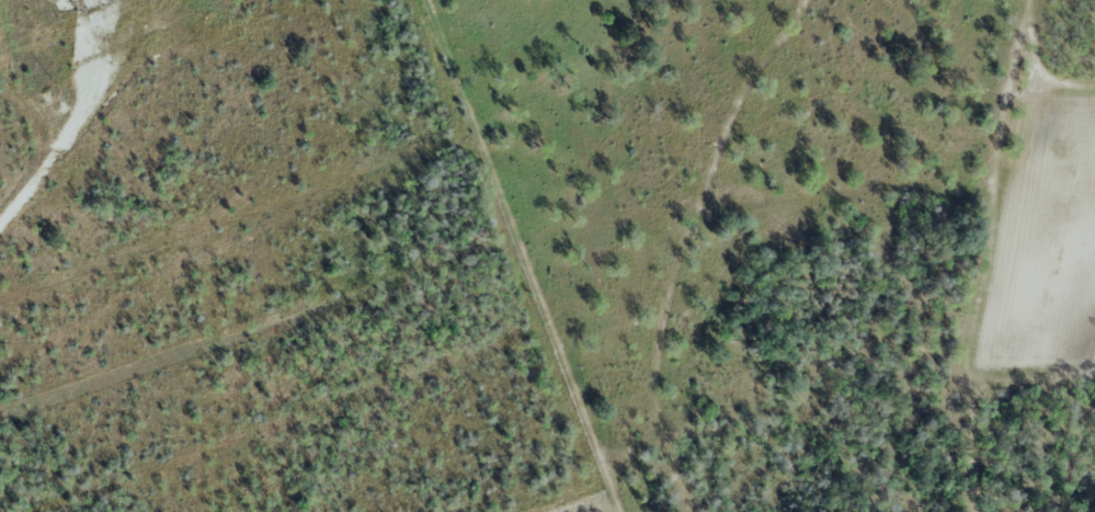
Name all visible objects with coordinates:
road: (73, 120)

